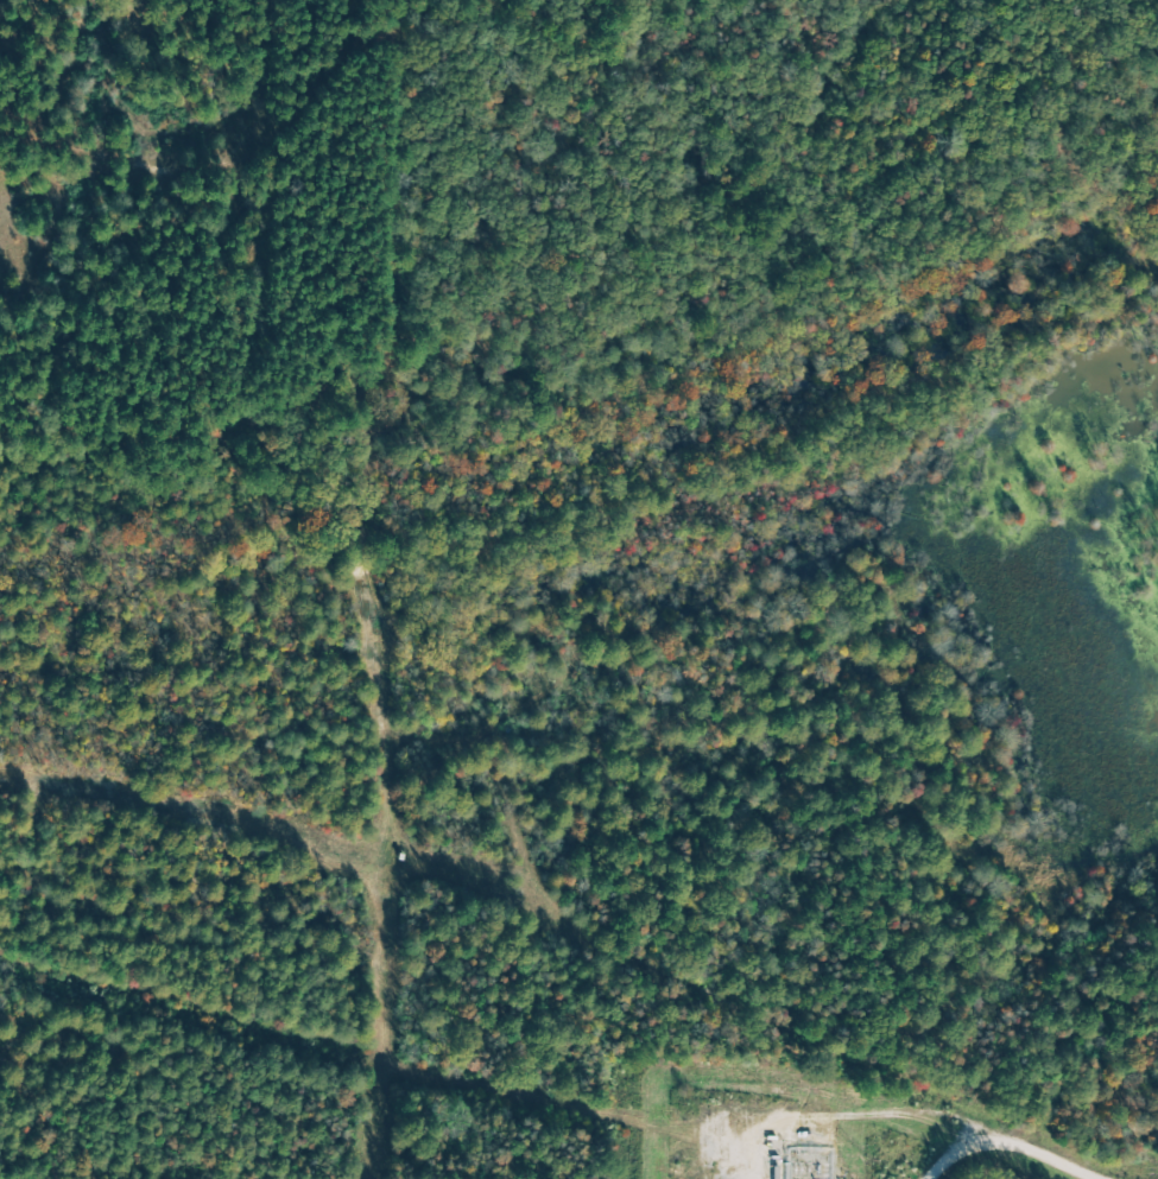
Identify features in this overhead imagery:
road: (1013, 1143)

